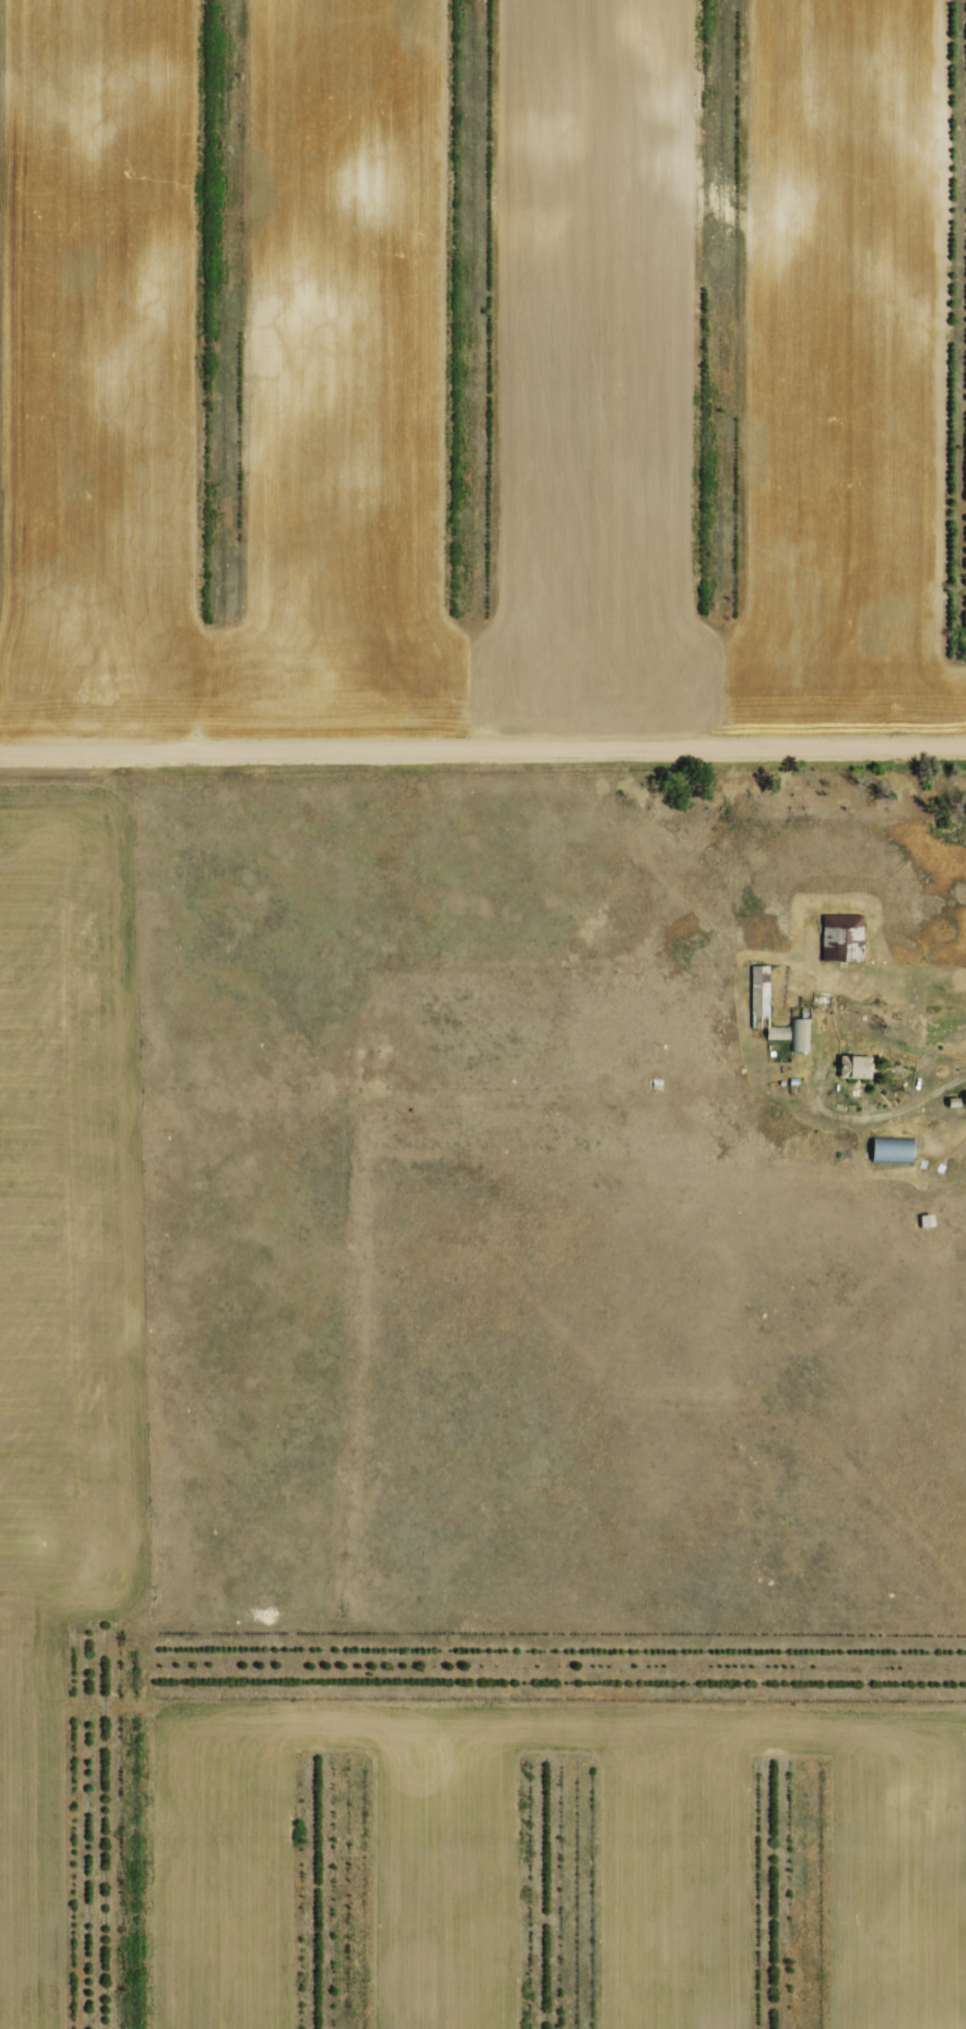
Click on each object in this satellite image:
road: (483, 750)
building: (842, 931)
building: (758, 991)
building: (778, 1024)
building: (799, 1029)
building: (854, 1064)
road: (819, 1084)
building: (963, 1094)
building: (890, 1142)

